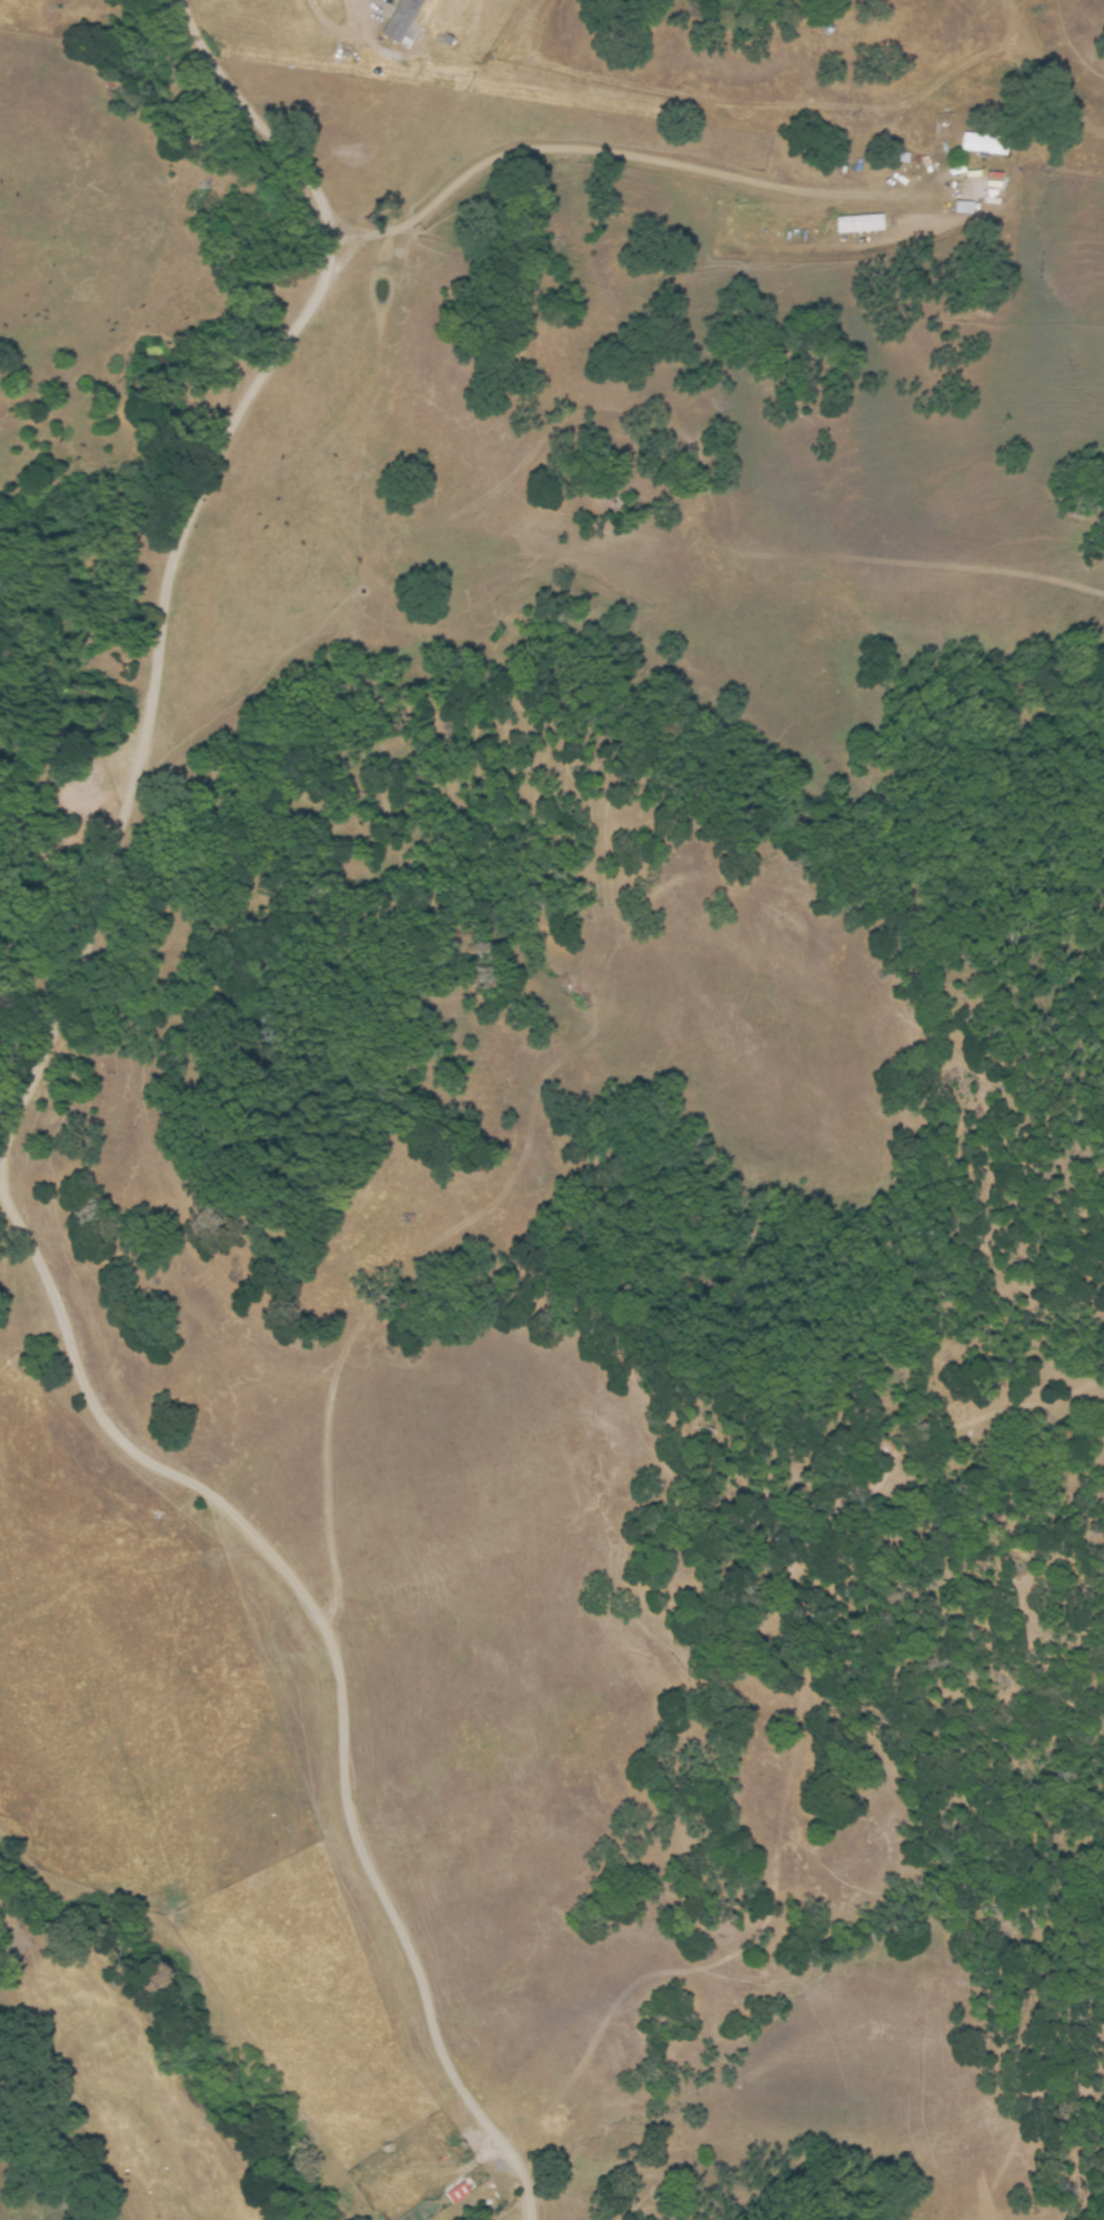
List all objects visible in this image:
road: (377, 2)
building: (395, 20)
road: (260, 127)
building: (980, 143)
building: (960, 208)
building: (854, 223)
road: (66, 1012)
building: (460, 2190)

